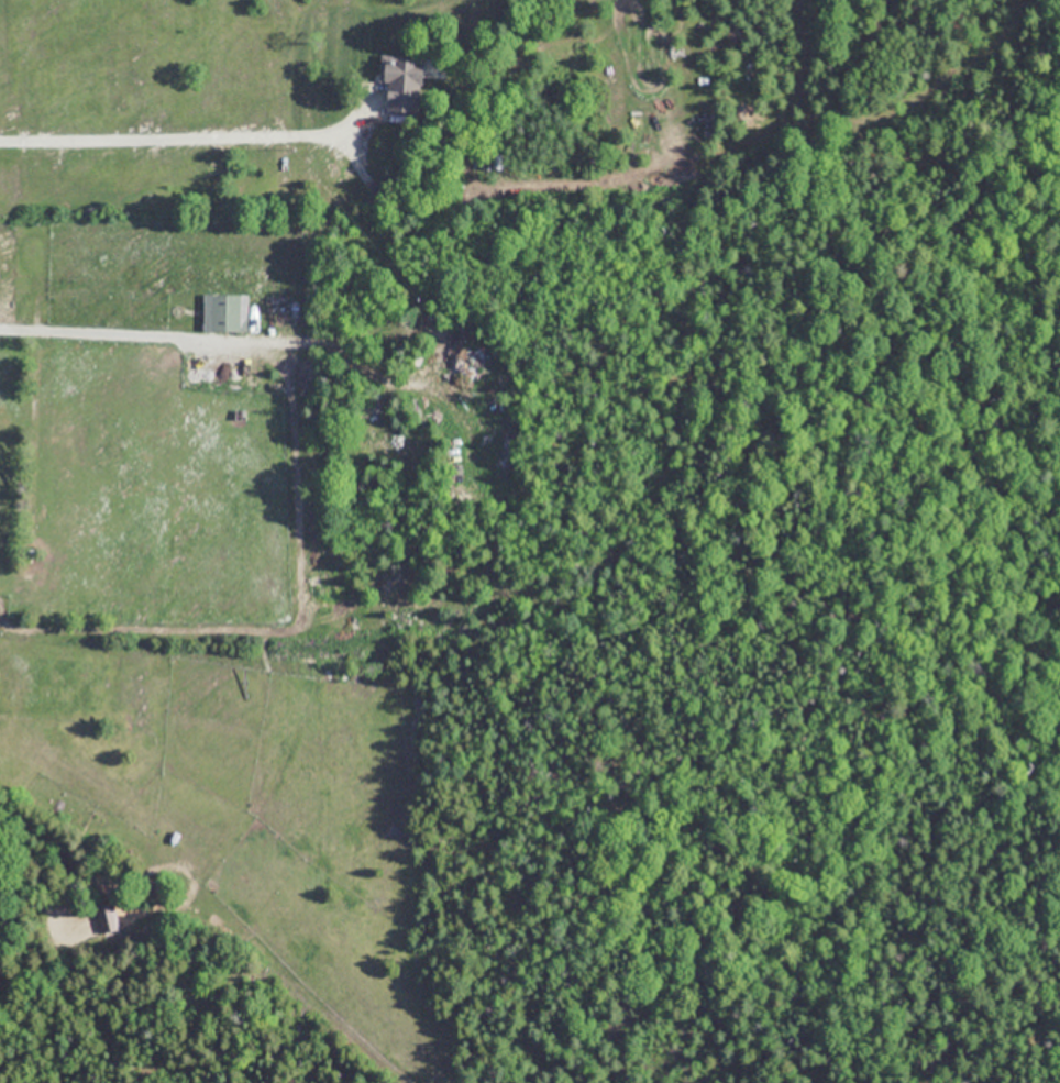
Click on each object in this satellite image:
building: (401, 80)
road: (175, 136)
building: (224, 312)
road: (164, 332)
building: (108, 918)

